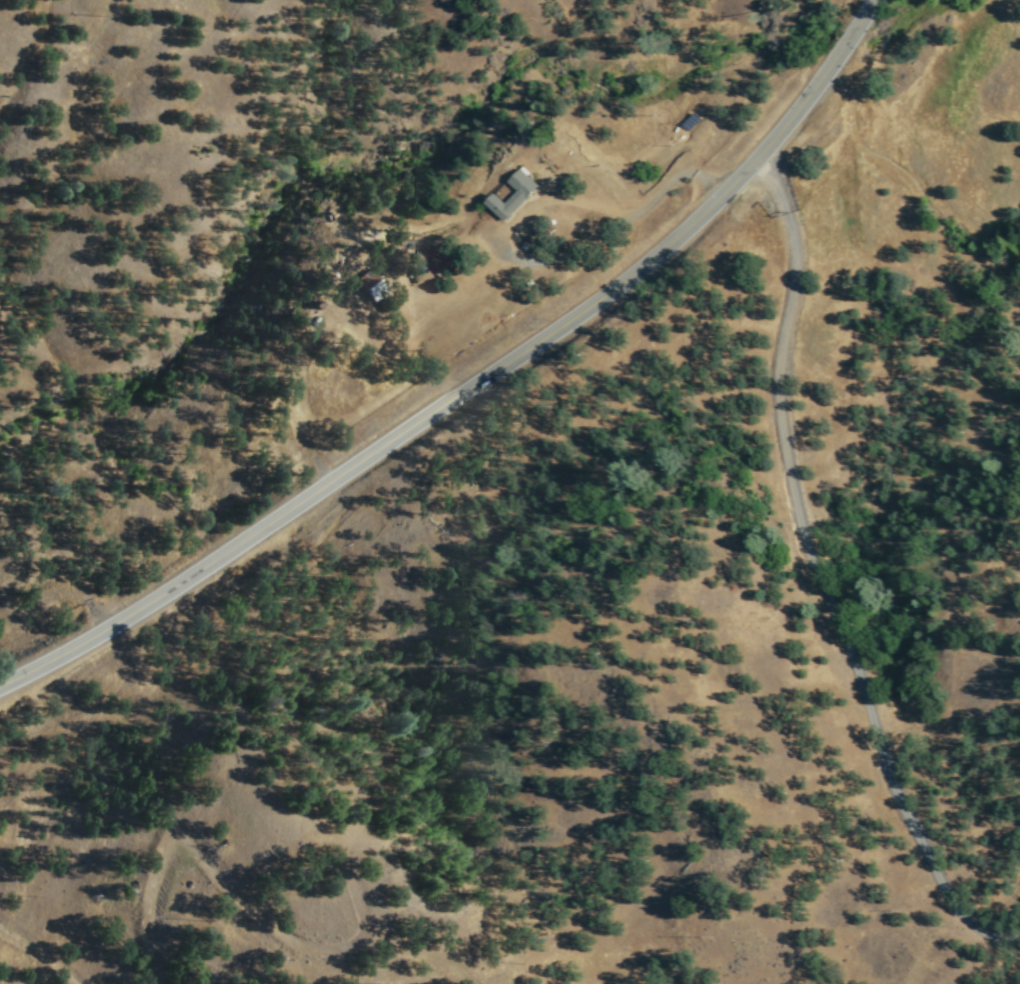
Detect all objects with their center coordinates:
building: (511, 195)
building: (368, 285)
road: (473, 384)

